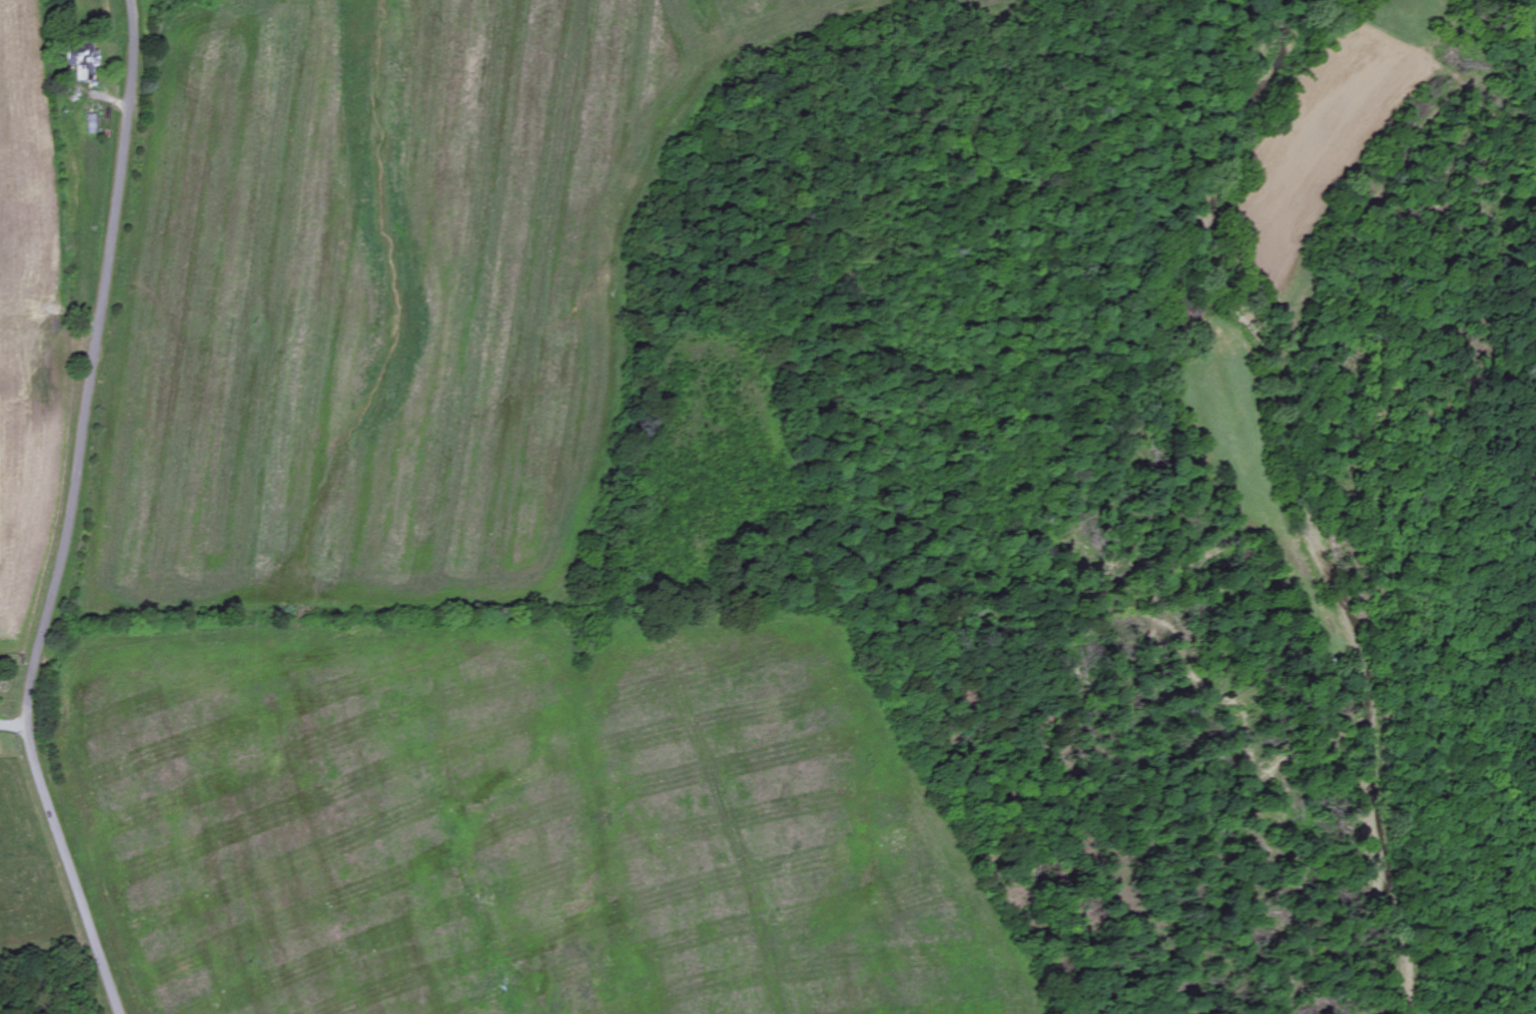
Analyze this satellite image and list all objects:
building: (83, 61)
road: (71, 514)
road: (1381, 598)

